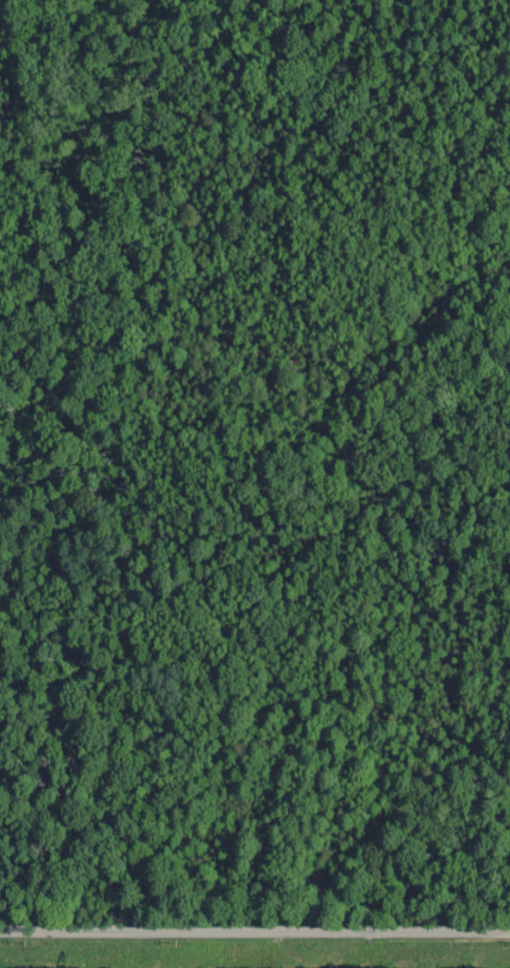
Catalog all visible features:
road: (254, 928)

